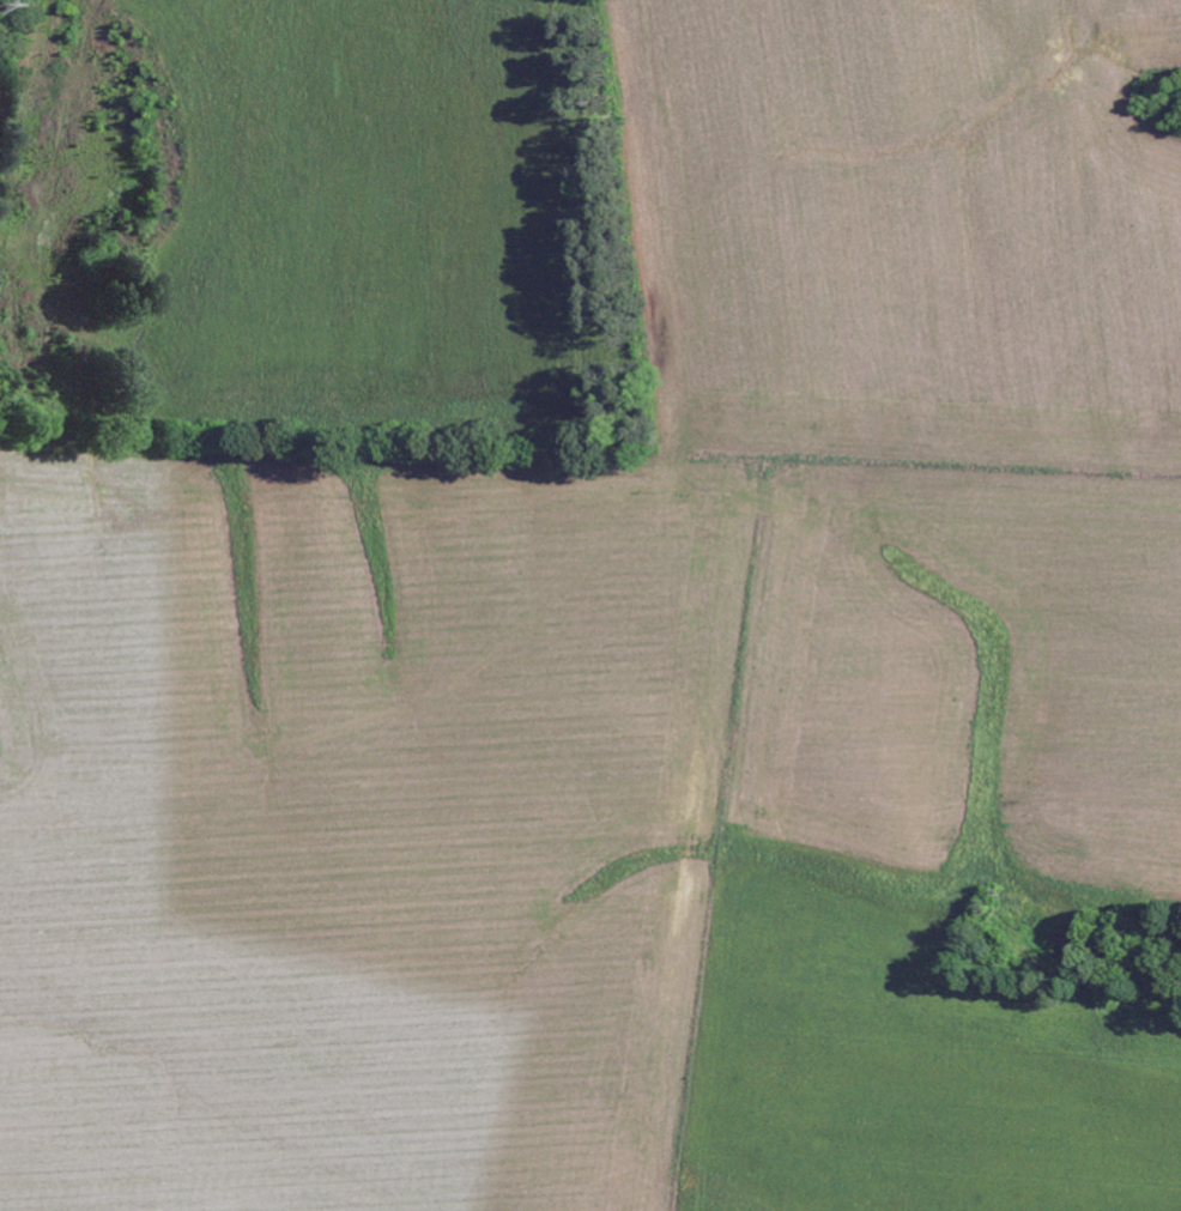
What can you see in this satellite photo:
road: (4, 19)

